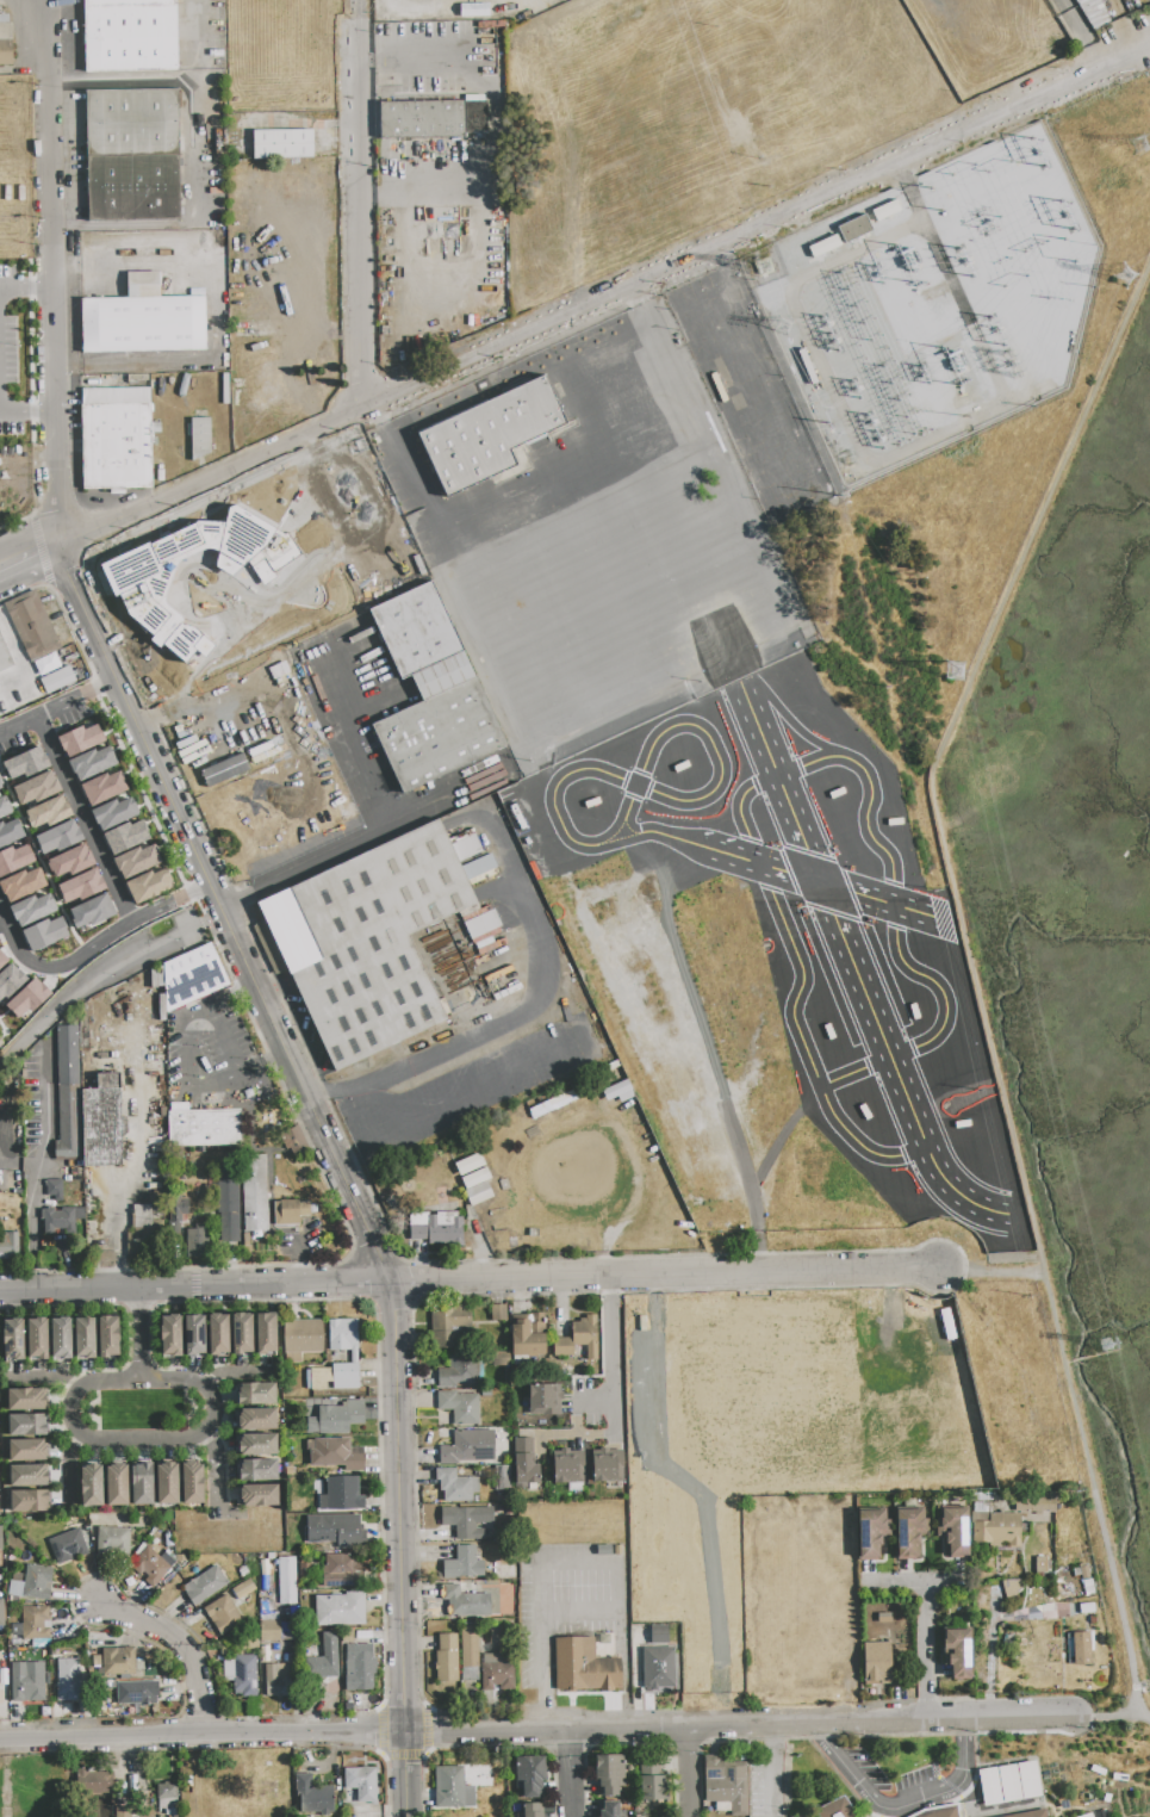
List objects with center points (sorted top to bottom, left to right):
building: (474, 10)
road: (29, 12)
road: (356, 14)
road: (1081, 32)
building: (130, 36)
building: (6, 43)
building: (422, 119)
road: (52, 130)
road: (495, 131)
building: (282, 144)
power tower: (1132, 145)
road: (187, 151)
building: (132, 155)
road: (361, 221)
building: (853, 228)
building: (160, 247)
power tower: (760, 268)
road: (654, 274)
power tower: (1125, 279)
road: (27, 291)
power substation: (933, 310)
building: (143, 324)
road: (57, 351)
road: (29, 413)
building: (489, 435)
building: (199, 436)
building: (116, 439)
road: (404, 459)
road: (58, 492)
road: (110, 520)
road: (29, 537)
road: (32, 563)
building: (155, 585)
building: (30, 625)
building: (5, 657)
building: (45, 663)
power tower: (953, 674)
building: (56, 680)
building: (431, 693)
road: (77, 696)
road: (185, 702)
road: (18, 725)
building: (80, 739)
road: (943, 759)
building: (92, 762)
building: (24, 763)
building: (224, 769)
building: (0, 786)
building: (102, 787)
building: (35, 788)
building: (4, 806)
building: (46, 812)
building: (113, 813)
road: (83, 820)
road: (390, 829)
building: (10, 831)
building: (125, 836)
building: (57, 837)
building: (14, 858)
building: (68, 861)
building: (136, 861)
building: (21, 883)
building: (148, 885)
building: (80, 886)
road: (184, 895)
building: (31, 908)
building: (91, 911)
building: (44, 934)
building: (367, 942)
building: (2, 959)
road: (70, 962)
building: (192, 976)
building: (10, 980)
building: (27, 998)
road: (536, 1003)
road: (187, 1016)
building: (0, 1043)
road: (257, 1067)
building: (67, 1093)
building: (542, 1111)
road: (319, 1118)
building: (101, 1122)
building: (203, 1128)
building: (557, 1129)
building: (291, 1139)
road: (133, 1161)
road: (42, 1168)
building: (474, 1177)
building: (467, 1184)
building: (52, 1189)
building: (254, 1192)
building: (228, 1201)
building: (286, 1214)
building: (175, 1215)
building: (60, 1220)
building: (436, 1227)
building: (145, 1230)
building: (197, 1241)
building: (8, 1246)
road: (62, 1252)
road: (990, 1275)
road: (468, 1280)
road: (609, 1284)
building: (498, 1313)
building: (447, 1322)
building: (266, 1333)
building: (241, 1334)
building: (528, 1334)
road: (138, 1335)
building: (170, 1335)
building: (194, 1335)
building: (217, 1335)
building: (108, 1338)
building: (37, 1339)
building: (61, 1339)
building: (85, 1339)
building: (302, 1339)
building: (579, 1339)
building: (13, 1340)
power tower: (1106, 1342)
building: (354, 1357)
building: (499, 1358)
road: (610, 1363)
road: (228, 1370)
building: (459, 1371)
road: (44, 1375)
building: (256, 1394)
building: (26, 1399)
building: (545, 1399)
building: (460, 1407)
building: (336, 1418)
building: (256, 1419)
road: (611, 1420)
building: (27, 1425)
road: (189, 1434)
building: (257, 1445)
building: (468, 1447)
building: (27, 1450)
building: (329, 1451)
building: (526, 1462)
road: (66, 1464)
building: (605, 1464)
building: (567, 1465)
road: (215, 1468)
building: (257, 1470)
building: (29, 1475)
building: (502, 1477)
building: (167, 1483)
building: (192, 1483)
building: (142, 1484)
building: (91, 1486)
building: (116, 1486)
building: (456, 1486)
building: (341, 1494)
building: (260, 1495)
road: (1095, 1500)
building: (29, 1501)
building: (0, 1503)
building: (1036, 1503)
building: (467, 1521)
building: (334, 1528)
building: (996, 1528)
building: (909, 1531)
building: (953, 1531)
building: (871, 1532)
building: (113, 1540)
building: (0, 1543)
building: (68, 1546)
building: (617, 1549)
road: (557, 1561)
building: (464, 1563)
building: (1040, 1564)
building: (149, 1565)
building: (341, 1571)
building: (1082, 1571)
building: (286, 1581)
building: (37, 1582)
road: (914, 1582)
building: (205, 1585)
building: (1088, 1588)
building: (243, 1589)
building: (512, 1595)
building: (465, 1602)
building: (1086, 1608)
building: (340, 1610)
building: (1, 1613)
building: (223, 1614)
building: (36, 1623)
building: (269, 1631)
building: (659, 1635)
road: (180, 1649)
building: (1081, 1649)
road: (926, 1651)
building: (958, 1654)
building: (470, 1656)
building: (324, 1658)
building: (447, 1658)
building: (118, 1661)
building: (876, 1663)
building: (584, 1666)
building: (359, 1667)
building: (658, 1668)
building: (497, 1673)
building: (245, 1675)
building: (278, 1680)
building: (70, 1681)
building: (26, 1683)
building: (136, 1693)
road: (1104, 1714)
road: (740, 1729)
road: (204, 1736)
road: (770, 1736)
road: (827, 1741)
road: (571, 1744)
road: (963, 1763)
building: (609, 1774)
road: (691, 1774)
road: (411, 1775)
building: (530, 1775)
building: (92, 1780)
building: (1030, 1780)
road: (771, 1781)
building: (361, 1784)
building: (1009, 1784)
building: (726, 1785)
road: (571, 1786)
building: (989, 1786)
building: (448, 1787)
building: (653, 1787)
building: (313, 1796)
building: (166, 1799)
road: (877, 1805)
building: (532, 1810)
building: (610, 1810)
building: (835, 1810)
building: (122, 1811)
building: (938, 1811)
building: (1032, 1813)
building: (1087, 1816)

